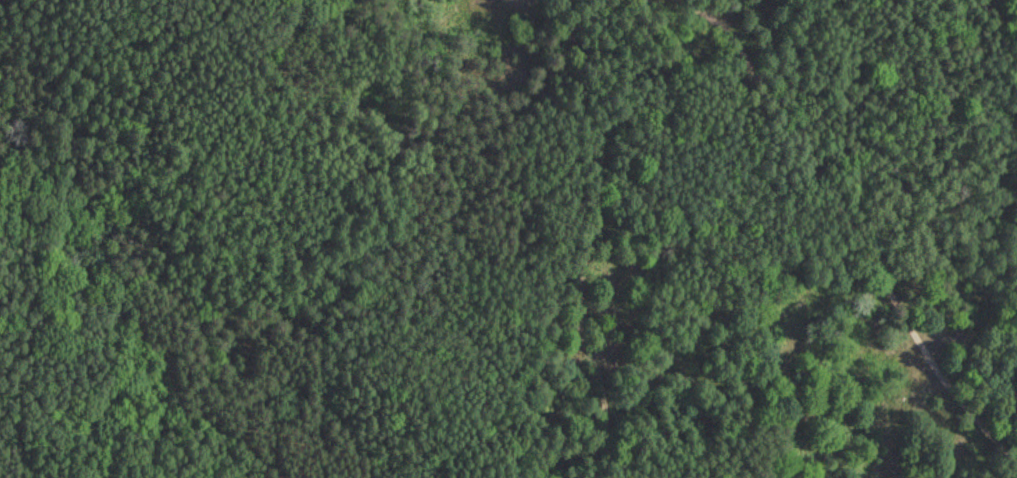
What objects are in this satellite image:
road: (582, 205)
road: (842, 231)

